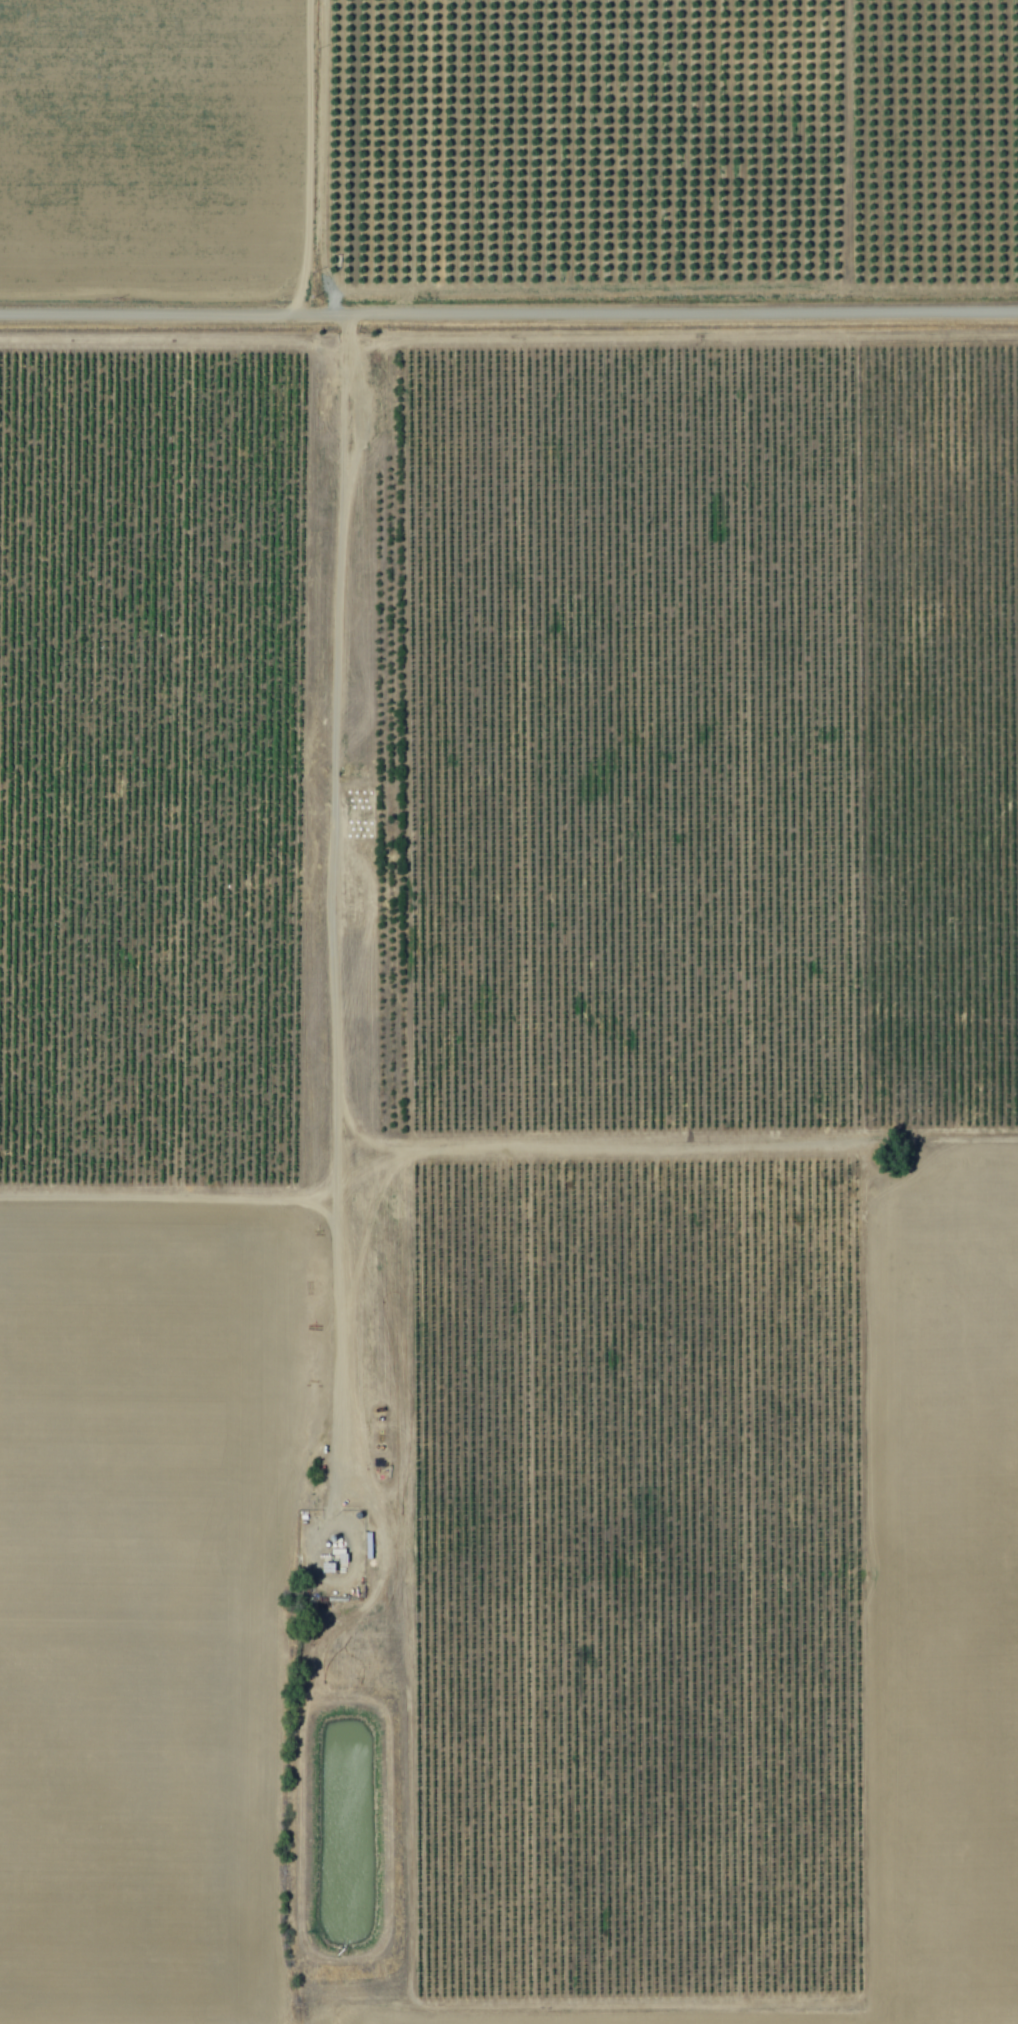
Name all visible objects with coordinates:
road: (508, 307)
road: (335, 1004)
road: (168, 1192)

